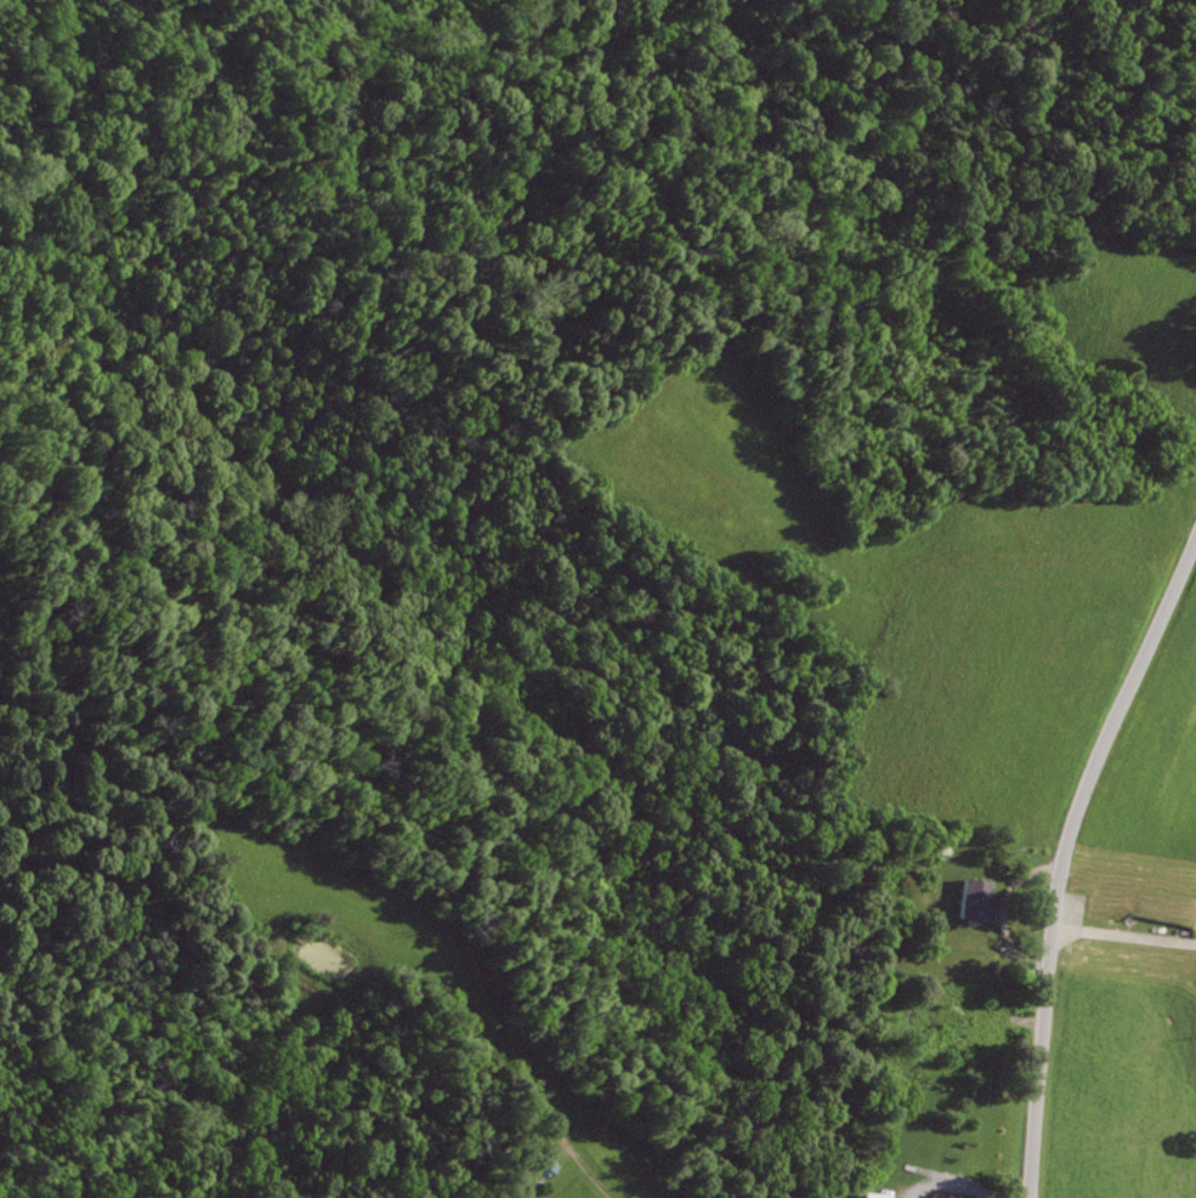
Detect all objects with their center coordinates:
road: (1064, 853)
building: (977, 899)
road: (1001, 912)
road: (1124, 932)
road: (450, 1000)
road: (1014, 1021)
building: (963, 1037)
building: (535, 1160)
road: (964, 1186)
building: (877, 1196)
building: (942, 1196)

